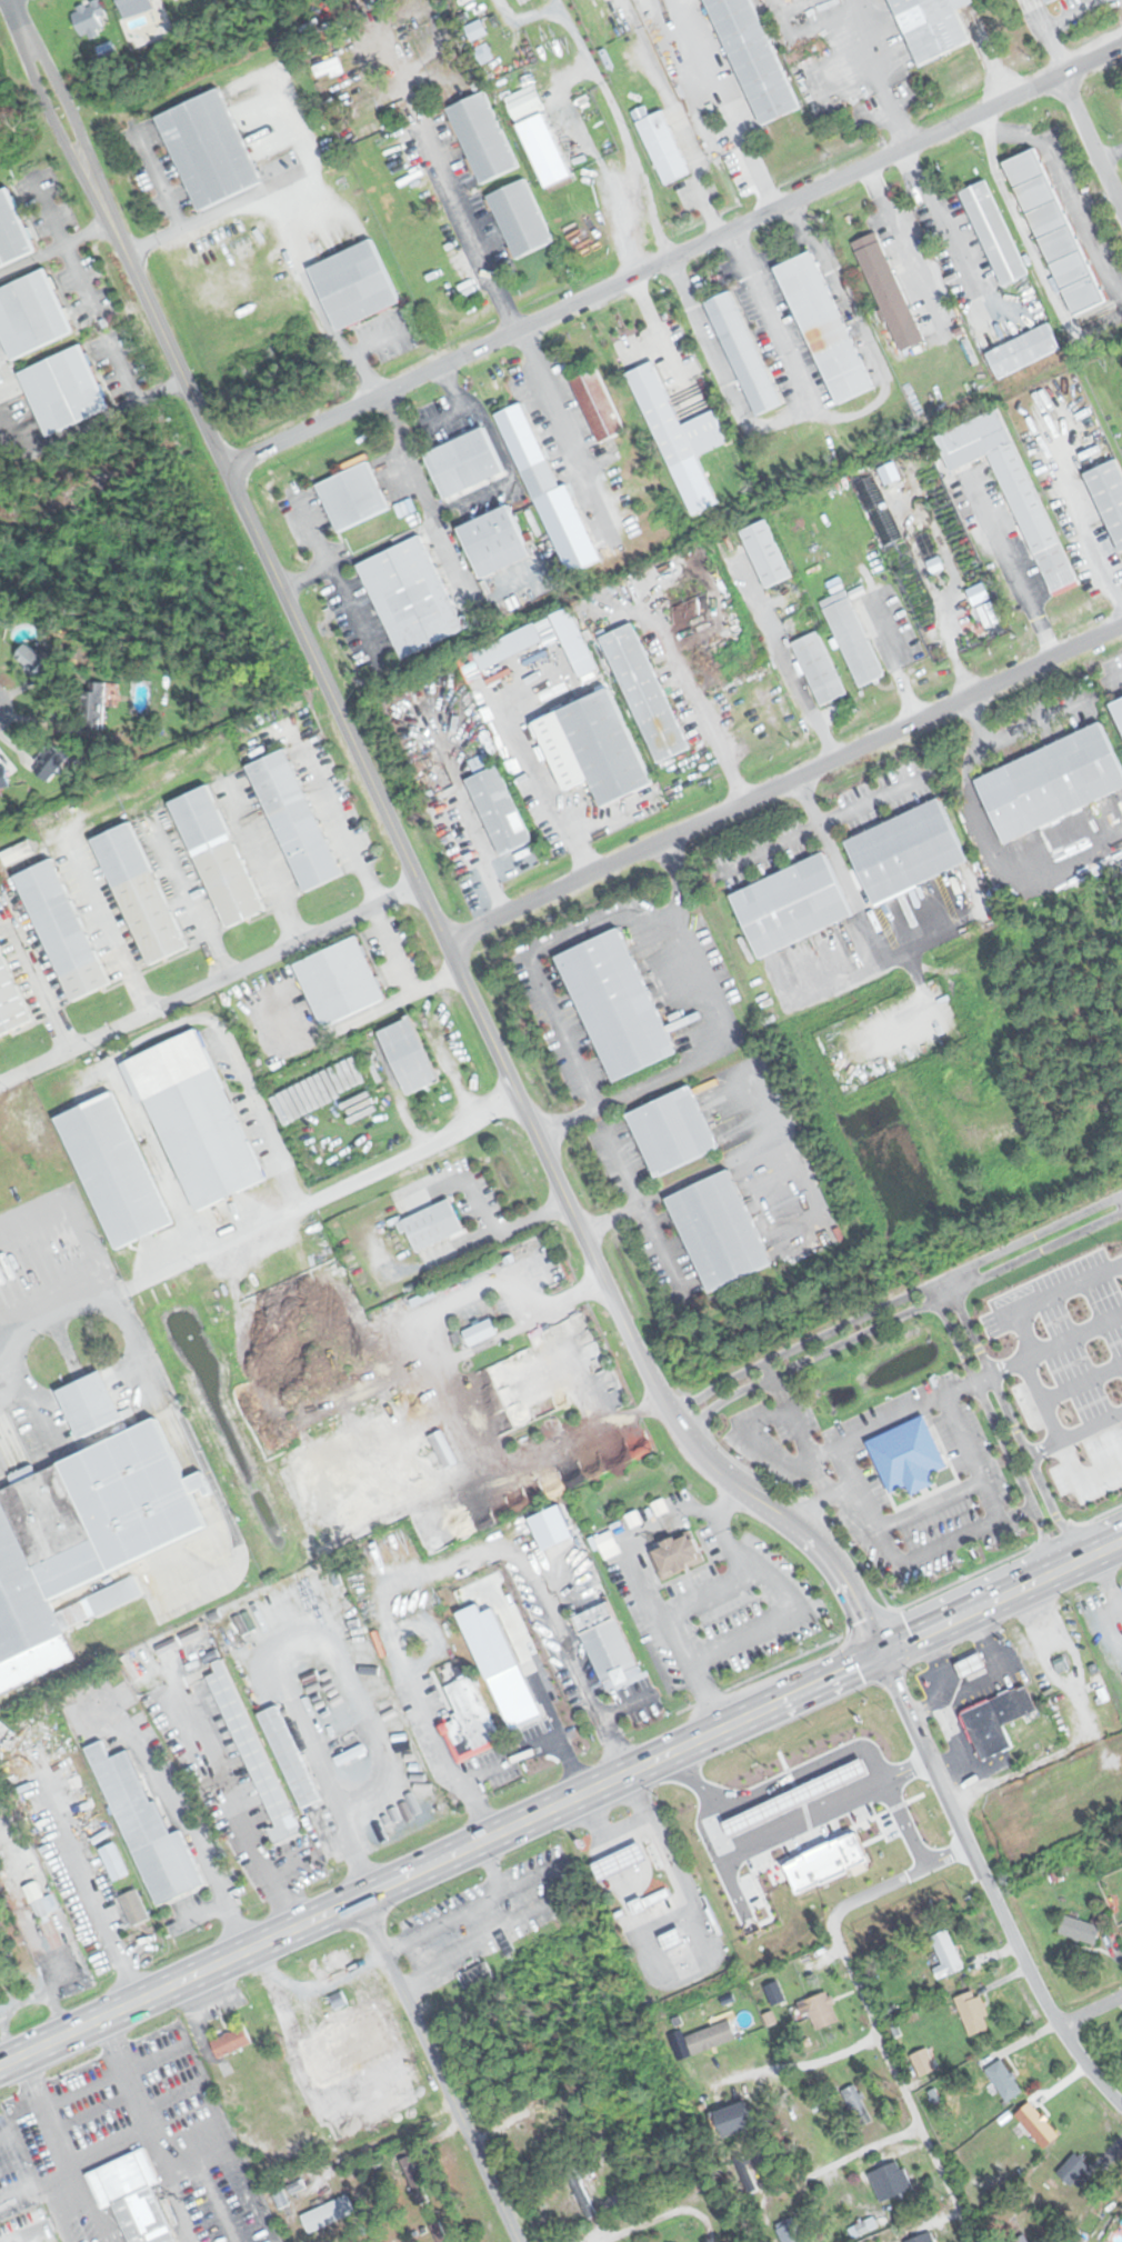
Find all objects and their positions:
building: (1046, 1)
building: (134, 7)
building: (88, 19)
building: (932, 27)
building: (475, 30)
building: (753, 58)
road: (880, 82)
road: (562, 84)
building: (482, 136)
road: (743, 140)
road: (1089, 144)
building: (663, 147)
building: (208, 148)
building: (544, 149)
road: (627, 171)
building: (520, 217)
road: (941, 221)
building: (12, 229)
building: (1053, 230)
road: (470, 231)
road: (623, 231)
road: (58, 232)
building: (993, 232)
road: (113, 234)
road: (901, 240)
road: (672, 256)
building: (354, 283)
building: (891, 294)
building: (31, 313)
building: (823, 327)
building: (1023, 350)
building: (743, 352)
road: (364, 372)
building: (63, 389)
road: (132, 390)
building: (598, 404)
building: (674, 420)
building: (463, 462)
building: (1013, 486)
building: (550, 493)
building: (352, 496)
building: (1109, 496)
building: (494, 541)
building: (765, 552)
road: (1014, 572)
building: (411, 597)
building: (852, 638)
building: (30, 658)
building: (819, 668)
road: (1119, 674)
building: (644, 692)
road: (700, 701)
building: (92, 704)
building: (1118, 710)
building: (593, 747)
building: (49, 761)
building: (3, 779)
road: (782, 781)
building: (1052, 781)
building: (498, 809)
building: (294, 820)
building: (913, 850)
building: (18, 852)
building: (218, 855)
building: (140, 893)
building: (794, 903)
building: (61, 929)
building: (340, 981)
road: (209, 984)
building: (9, 1001)
building: (617, 1004)
building: (409, 1055)
road: (513, 1090)
building: (194, 1119)
building: (672, 1131)
building: (113, 1170)
building: (226, 1219)
building: (431, 1224)
building: (719, 1231)
road: (941, 1287)
building: (480, 1332)
road: (1055, 1344)
parking lot: (1066, 1365)
road: (769, 1368)
road: (1029, 1369)
road: (982, 1378)
road: (1082, 1381)
building: (90, 1404)
road: (791, 1415)
road: (673, 1423)
road: (591, 1431)
road: (1073, 1432)
road: (1018, 1437)
road: (1002, 1440)
road: (772, 1447)
building: (908, 1455)
road: (869, 1514)
road: (630, 1541)
building: (80, 1545)
building: (677, 1555)
road: (693, 1598)
road: (775, 1620)
building: (608, 1645)
traffic signals: (879, 1654)
building: (500, 1664)
building: (972, 1665)
building: (469, 1720)
building: (995, 1721)
building: (253, 1753)
road: (846, 1754)
building: (290, 1758)
road: (905, 1773)
road: (687, 1779)
building: (795, 1796)
gas station: (795, 1796)
road: (561, 1802)
road: (240, 1814)
building: (148, 1831)
road: (782, 1832)
road: (187, 1834)
building: (732, 1839)
building: (886, 1860)
building: (113, 1861)
building: (624, 1861)
building: (830, 1862)
road: (898, 1880)
road: (988, 1888)
building: (44, 1905)
building: (134, 1908)
road: (99, 1909)
building: (1081, 1929)
building: (946, 1952)
building: (335, 1960)
building: (775, 1992)
building: (820, 2009)
road: (1090, 2010)
building: (972, 2012)
building: (345, 2014)
building: (710, 2036)
building: (230, 2041)
building: (923, 2061)
road: (438, 2069)
building: (1004, 2079)
road: (899, 2081)
building: (856, 2103)
building: (737, 2119)
building: (548, 2122)
building: (1036, 2124)
road: (53, 2126)
road: (186, 2129)
road: (34, 2168)
building: (1076, 2170)
building: (892, 2180)
building: (131, 2198)
building: (583, 2199)
road: (68, 2200)
building: (328, 2213)
road: (663, 2216)
road: (97, 2221)
road: (32, 2229)
building: (790, 2230)
road: (66, 2232)
building: (922, 2238)
building: (1020, 2239)

